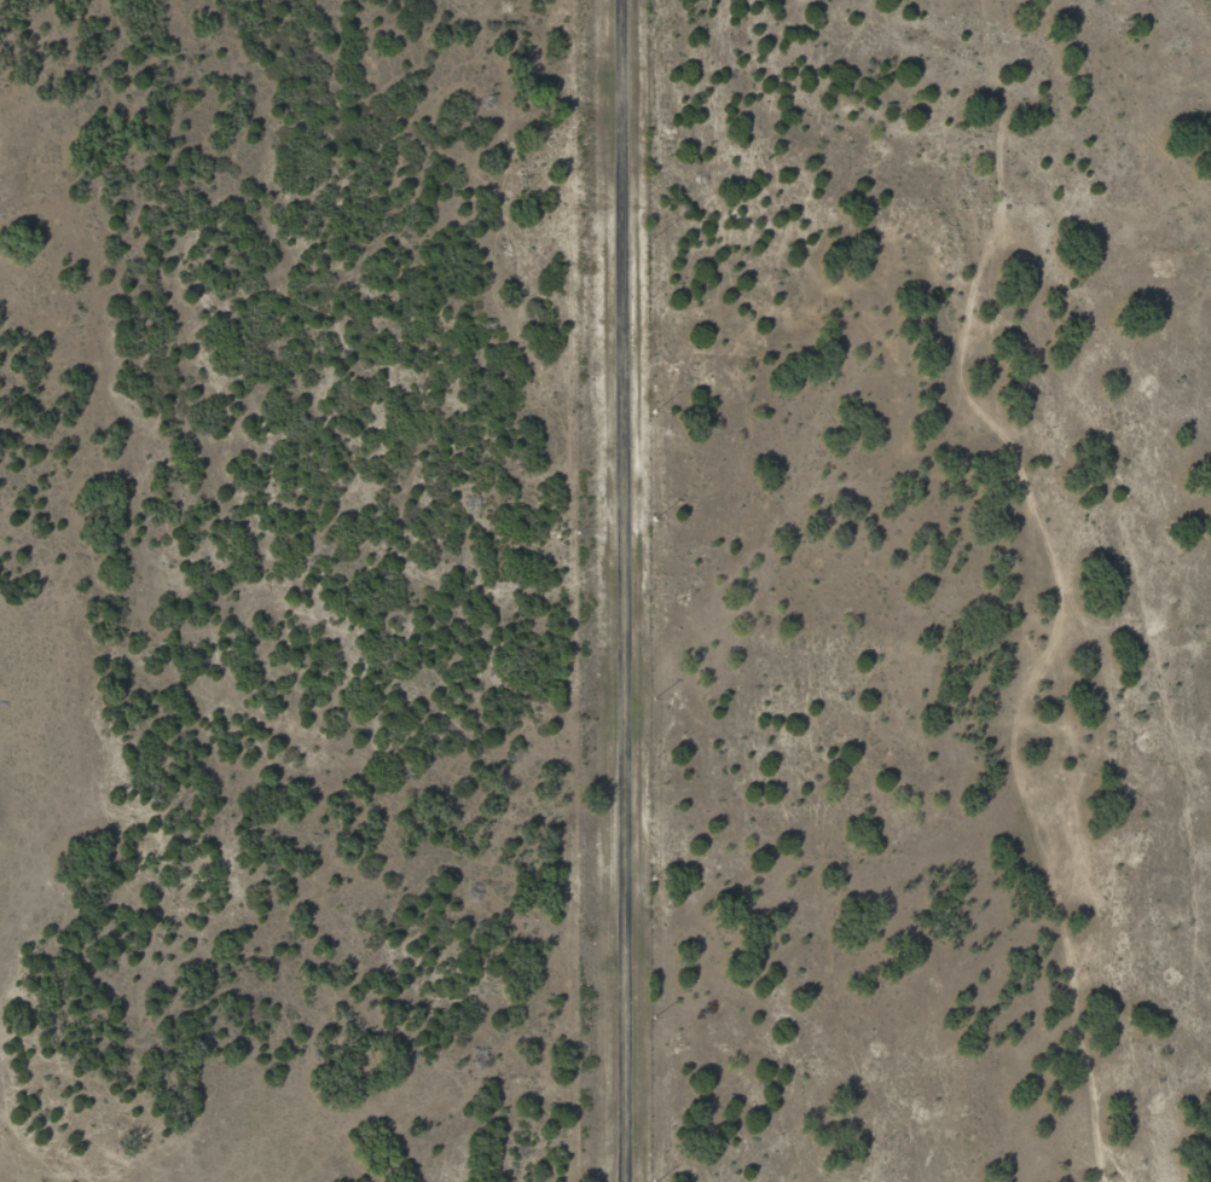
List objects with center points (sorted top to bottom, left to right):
road: (630, 590)

